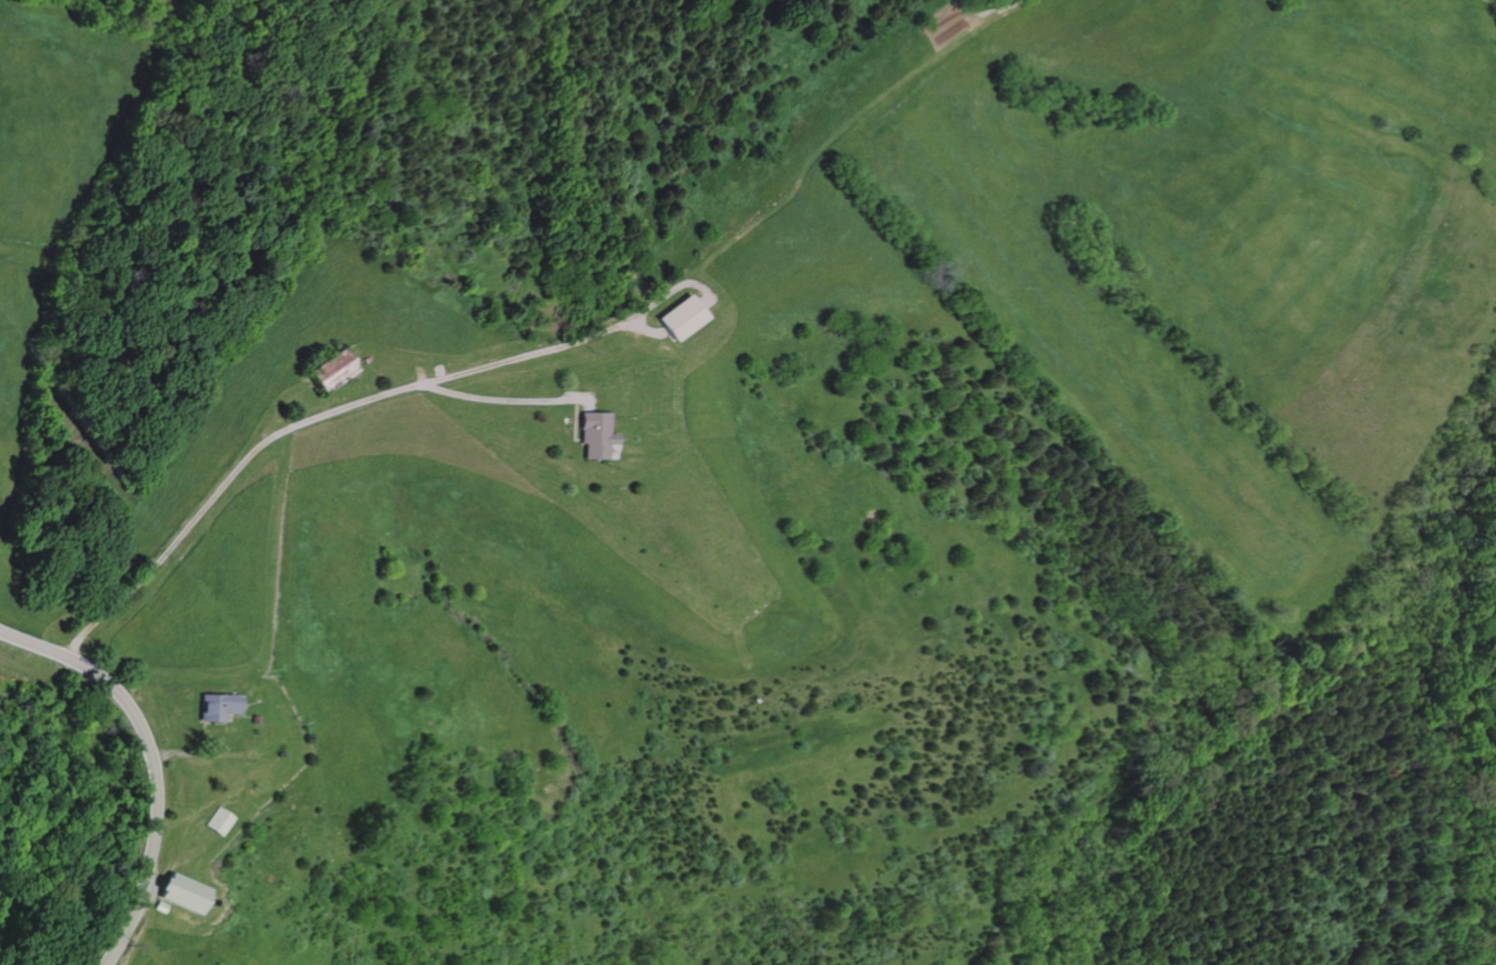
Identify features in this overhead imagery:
building: (683, 318)
road: (646, 329)
road: (569, 343)
building: (328, 370)
road: (434, 373)
road: (285, 428)
building: (596, 435)
building: (19, 690)
building: (217, 707)
building: (252, 720)
building: (279, 754)
road: (151, 762)
building: (219, 820)
building: (182, 892)
building: (160, 906)

